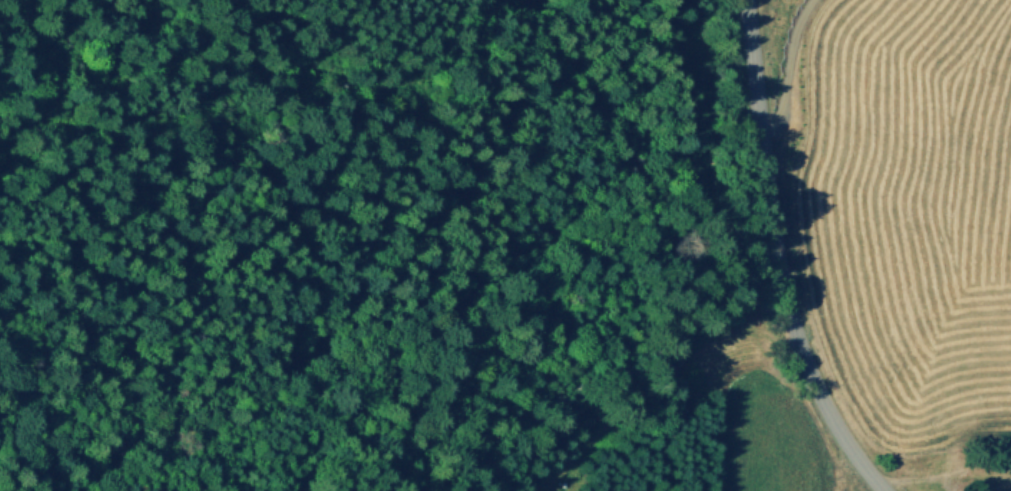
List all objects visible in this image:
road: (784, 60)
crop: (908, 203)
road: (779, 257)
crop: (759, 445)

